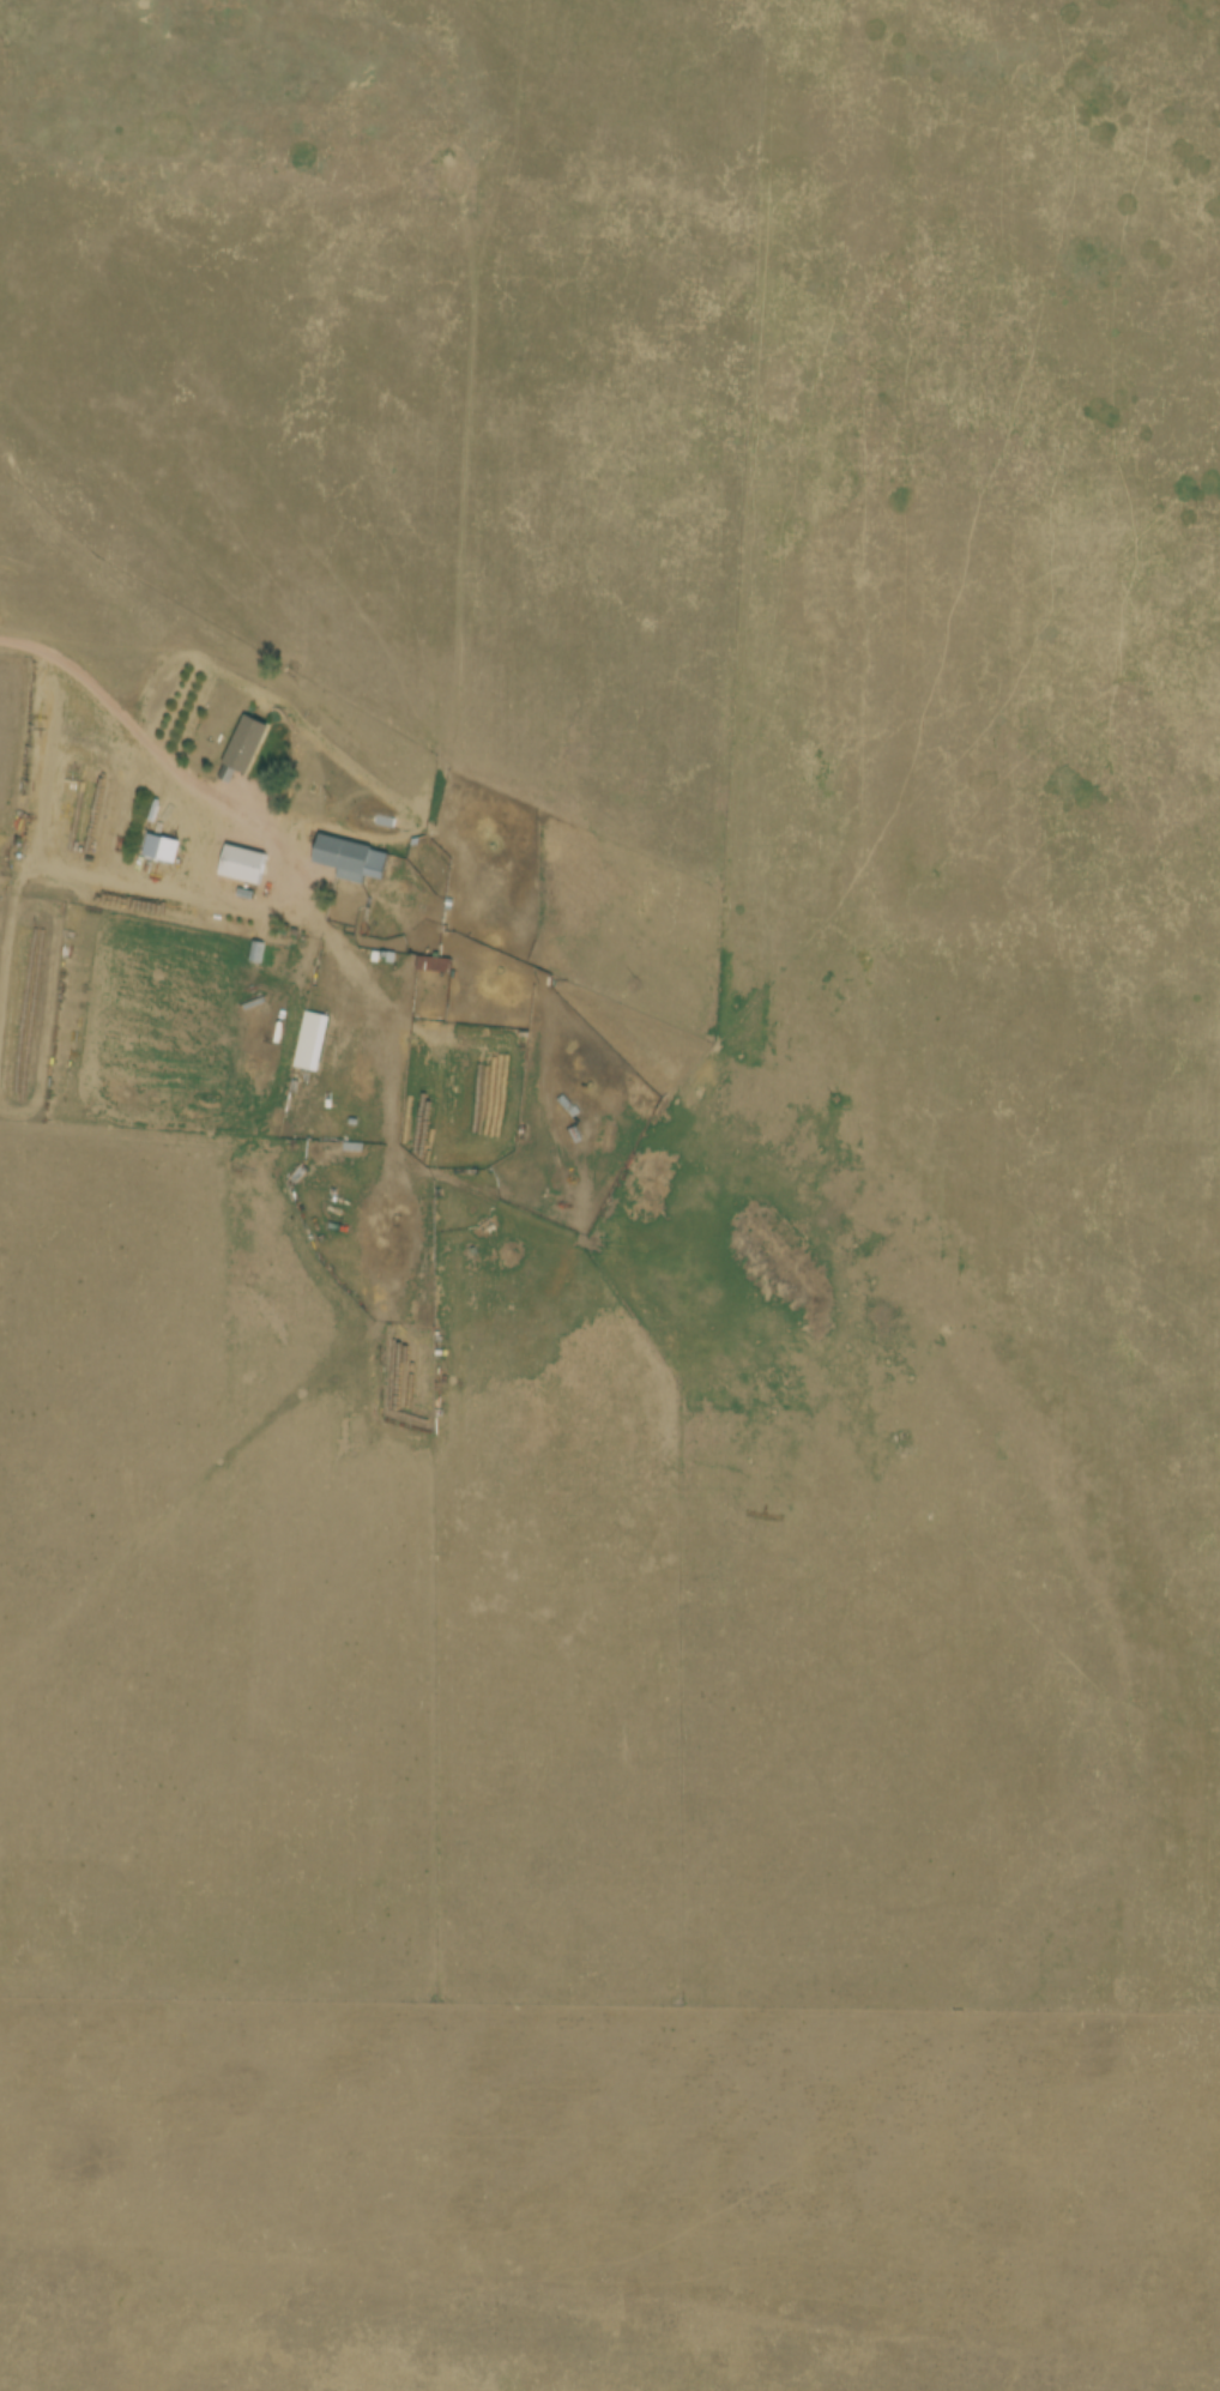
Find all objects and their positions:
road: (62, 666)
building: (248, 743)
road: (192, 798)
building: (352, 858)
building: (244, 863)
building: (313, 1040)

